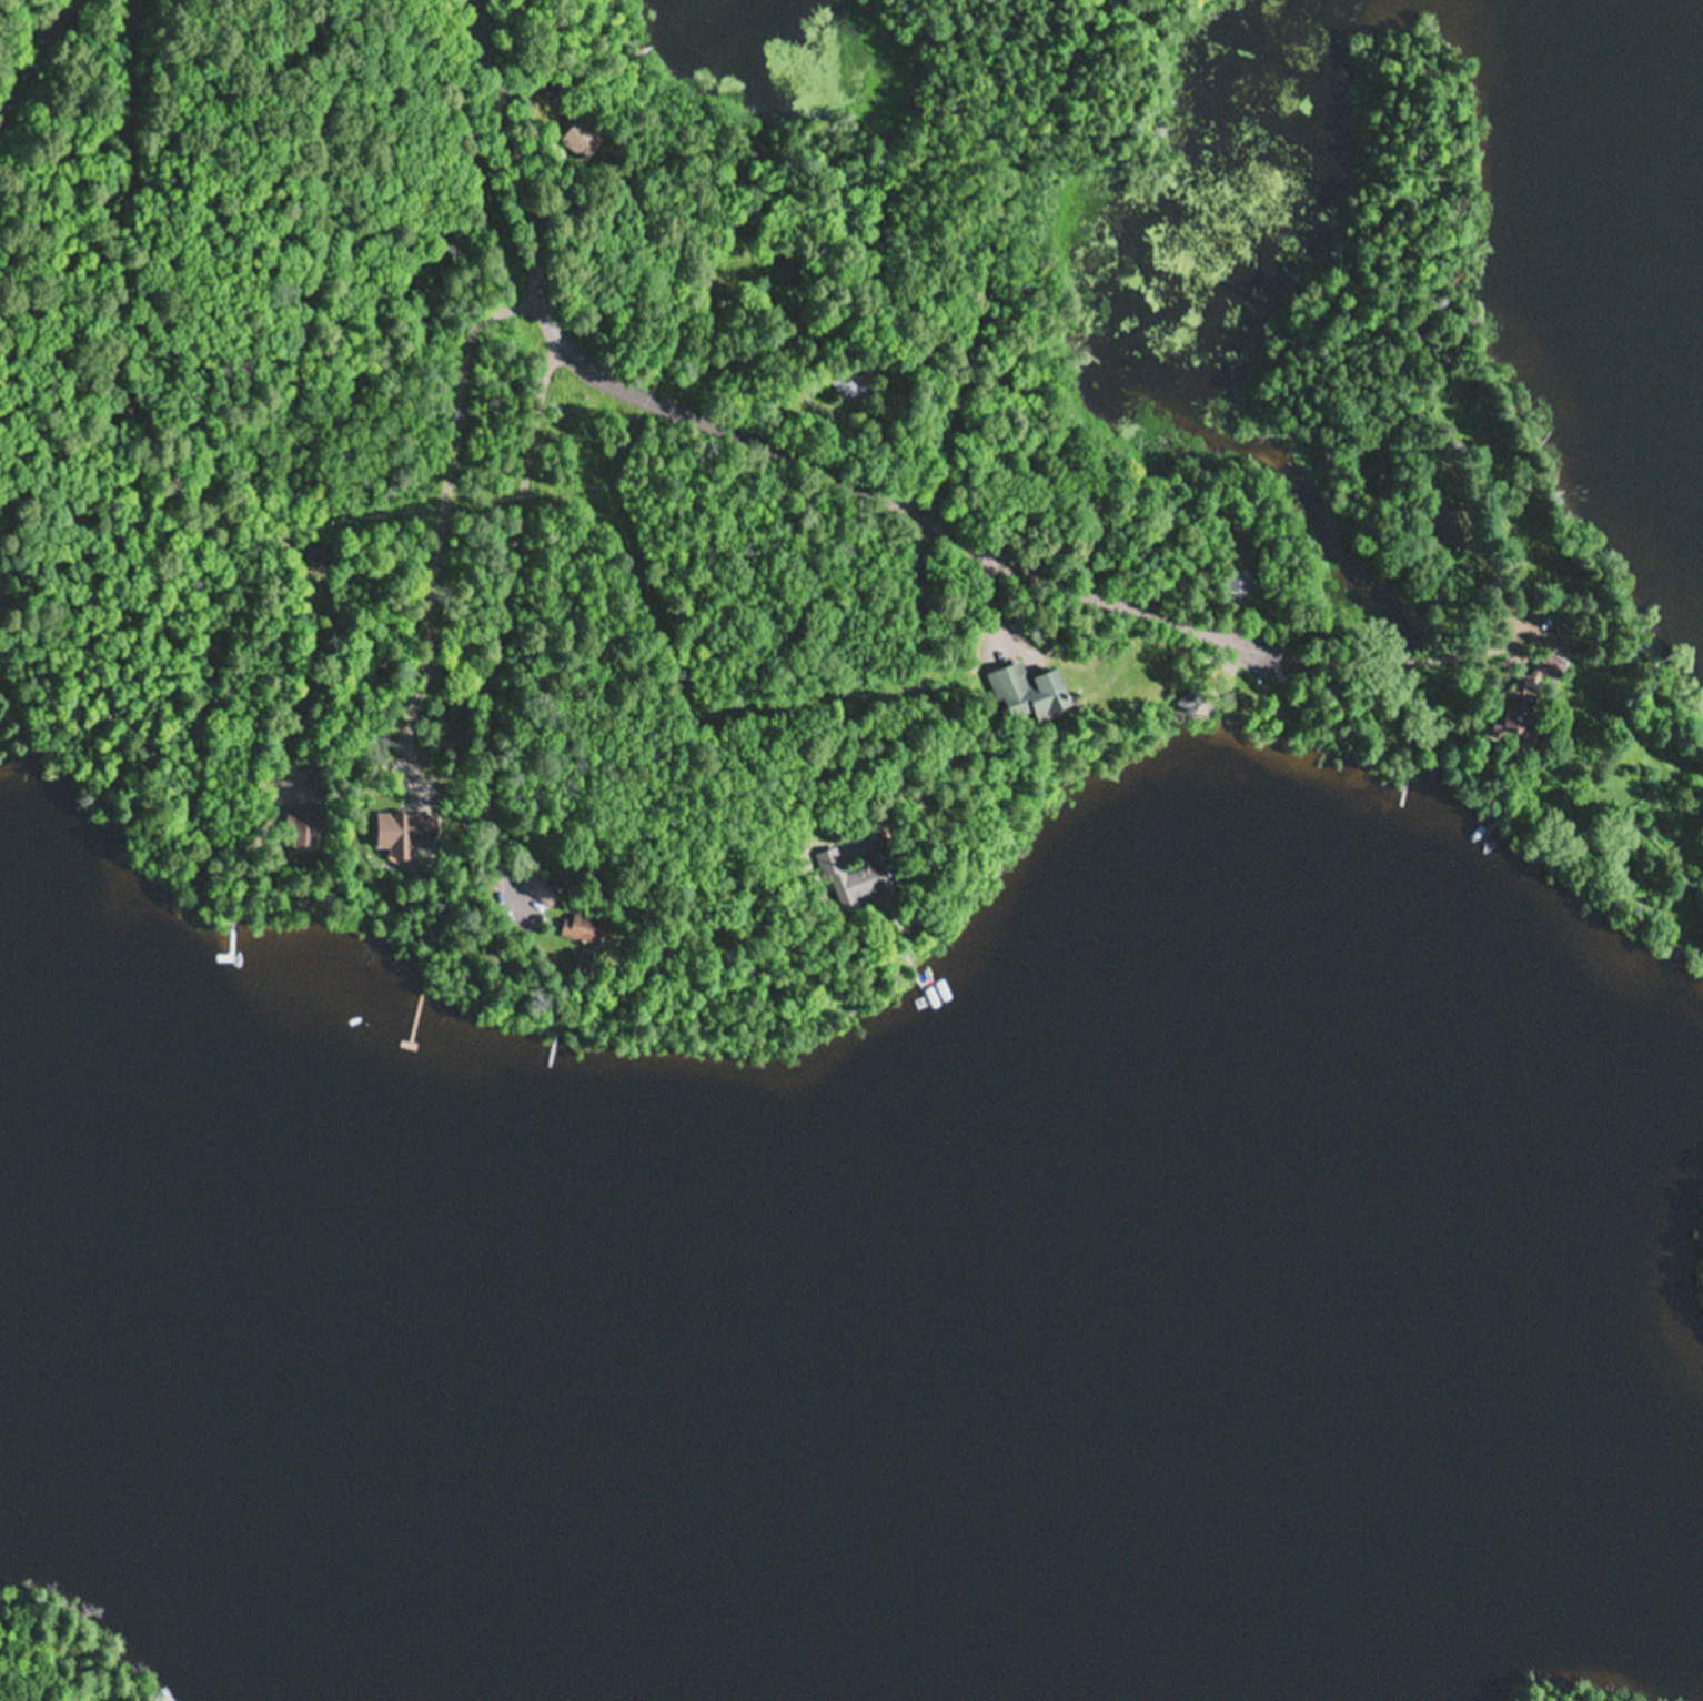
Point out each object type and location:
road: (32, 14)
road: (33, 51)
road: (971, 270)
road: (939, 522)
road: (551, 614)
road: (1666, 769)

